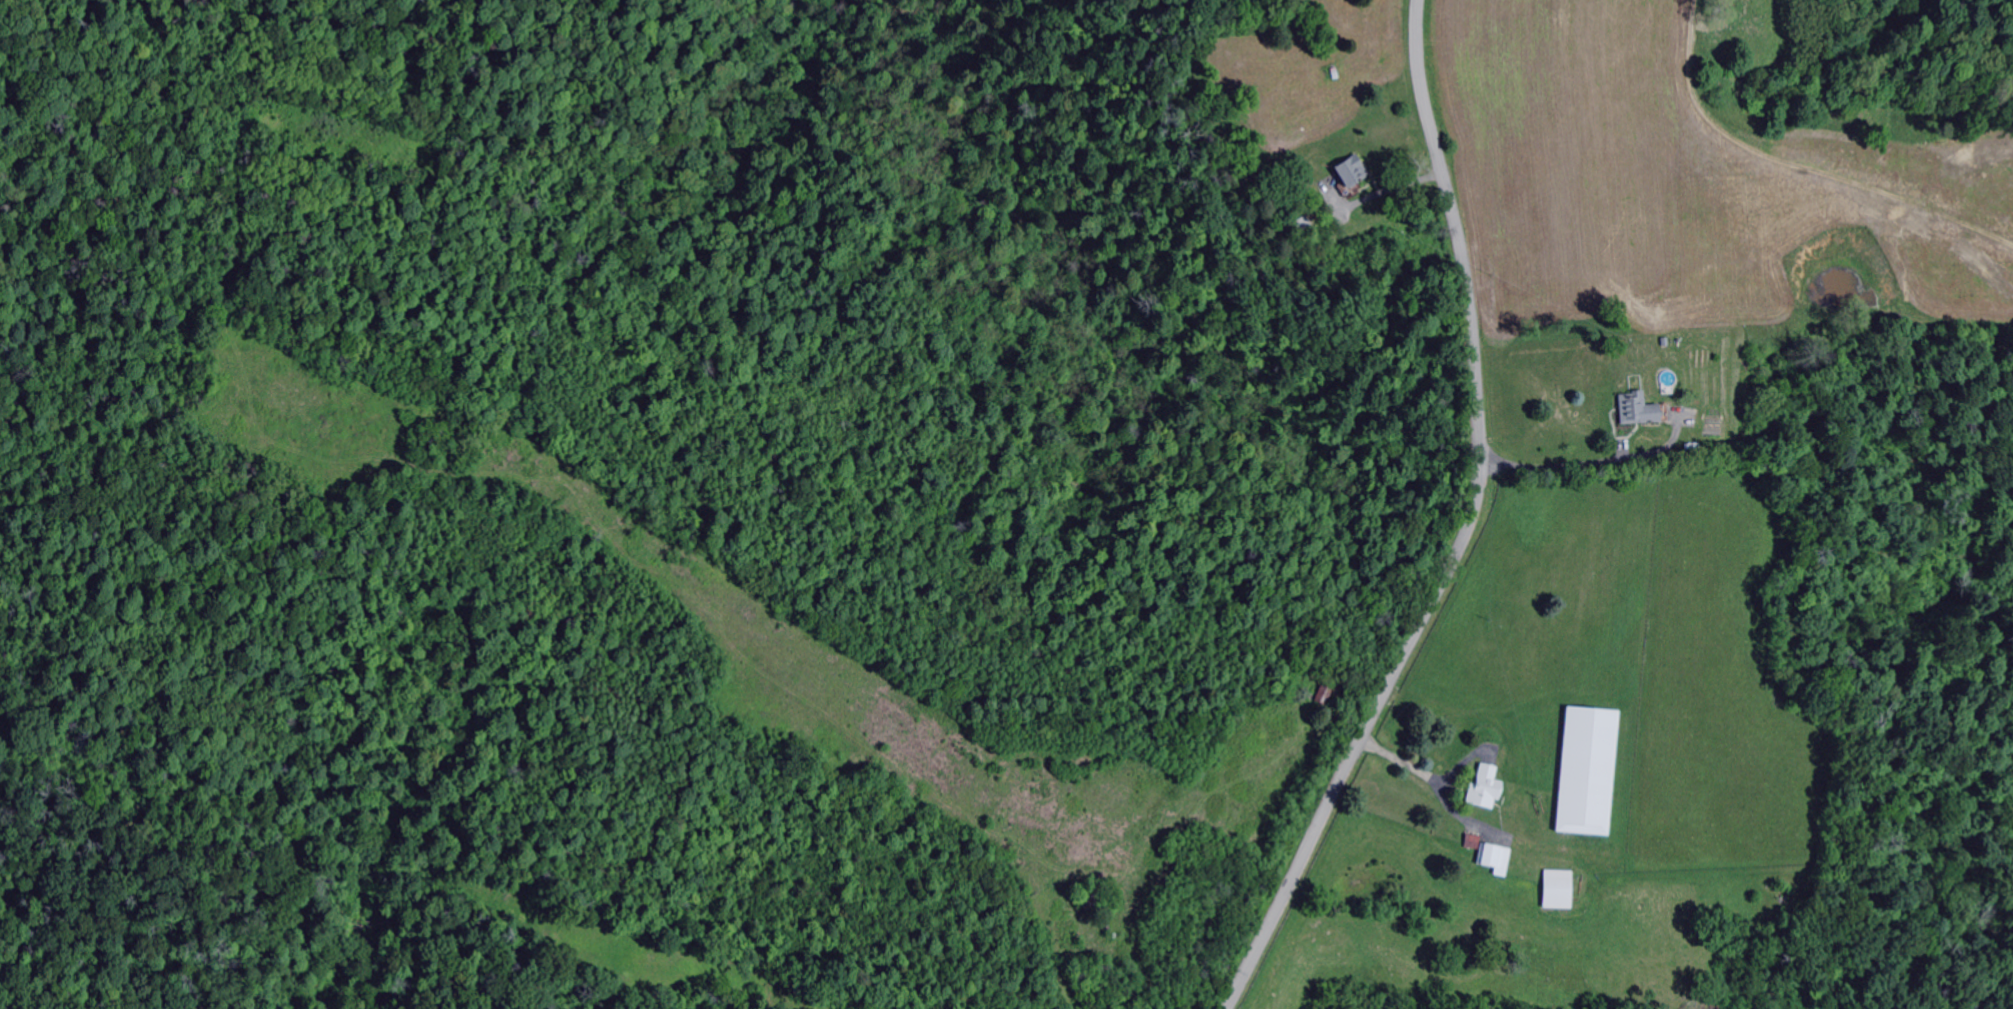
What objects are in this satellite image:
building: (1341, 172)
road: (1395, 186)
building: (1627, 411)
road: (1592, 461)
road: (1470, 527)
building: (1578, 773)
road: (1426, 776)
building: (1475, 790)
building: (1485, 860)
building: (1549, 891)

